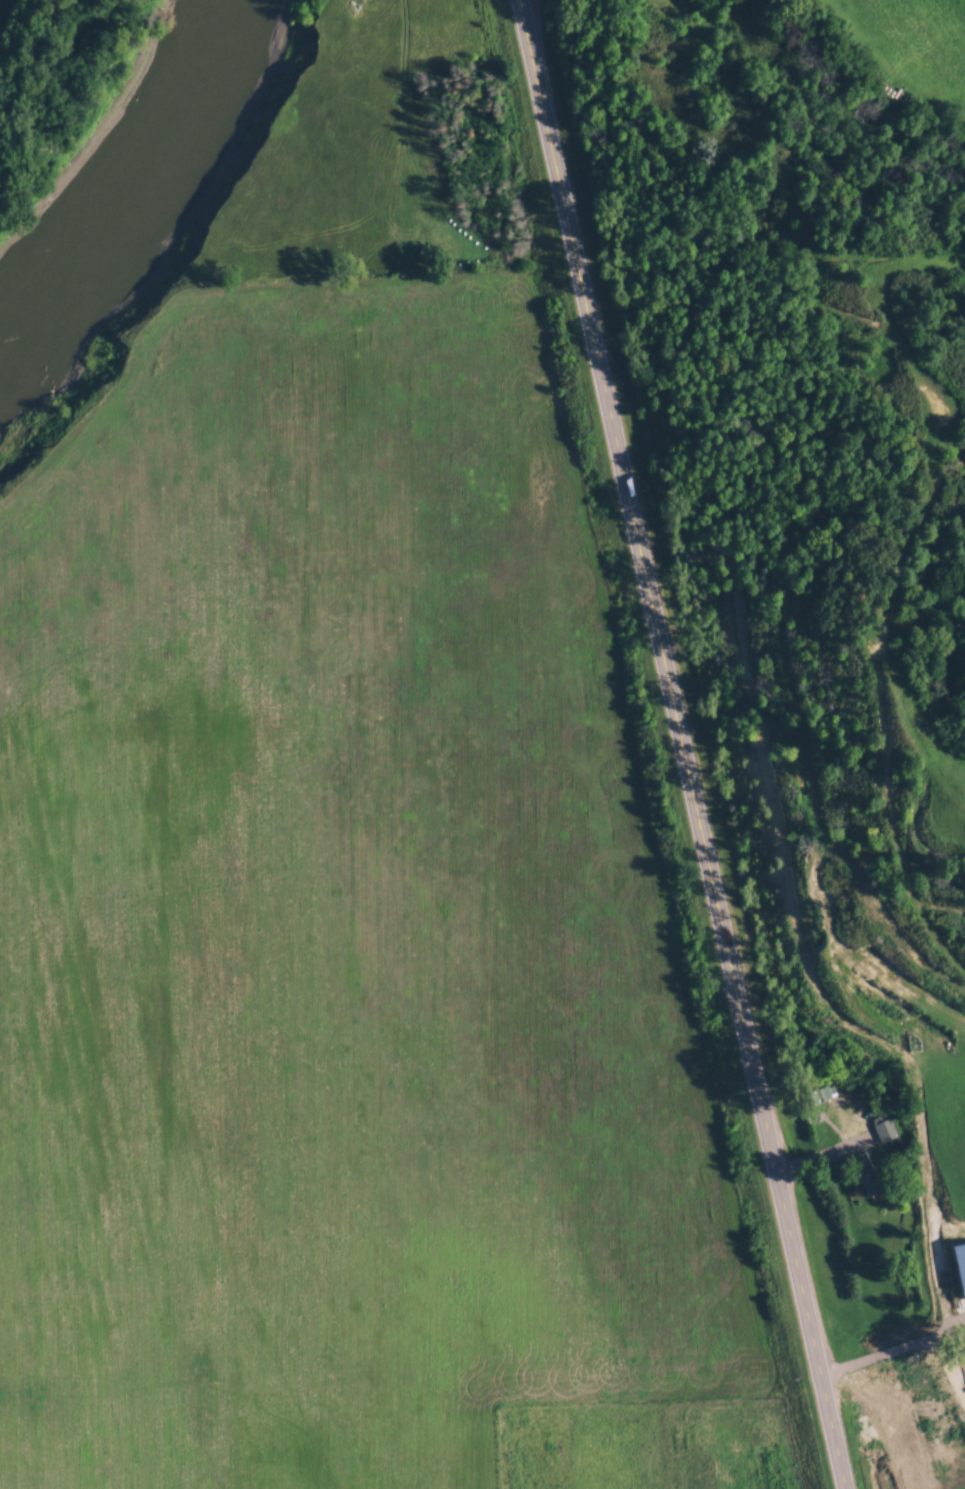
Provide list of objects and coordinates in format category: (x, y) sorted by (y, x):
river: (130, 178)
road: (688, 744)
building: (884, 1130)
building: (863, 1172)
building: (961, 1262)
road: (894, 1350)

